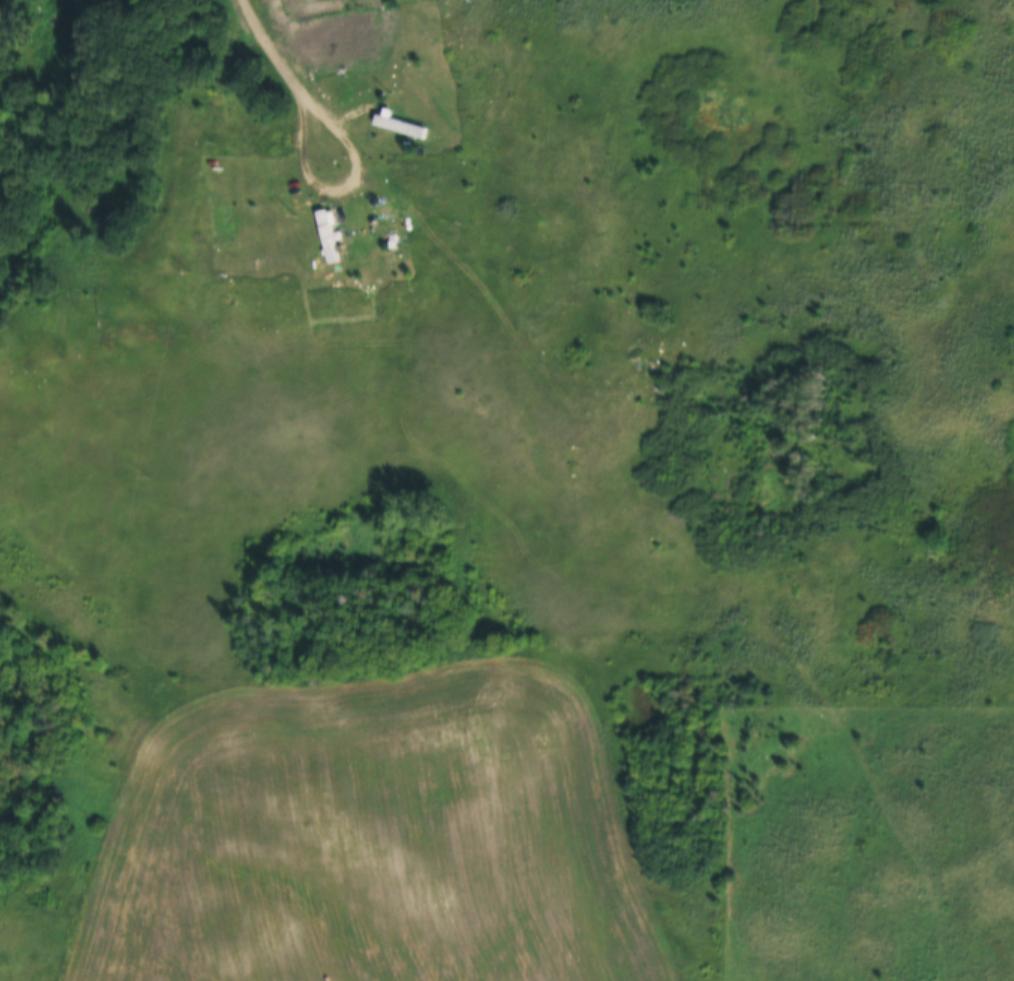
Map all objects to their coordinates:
road: (314, 117)

